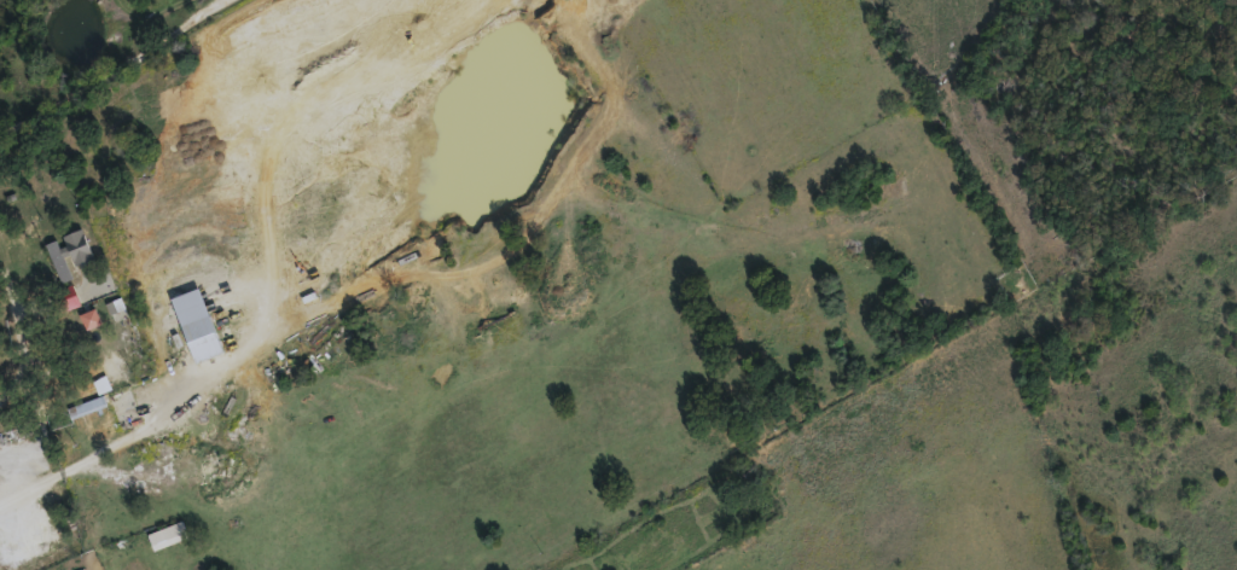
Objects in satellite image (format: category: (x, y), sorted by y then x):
road: (115, 69)
building: (69, 251)
building: (91, 318)
road: (16, 372)
building: (86, 405)
road: (149, 427)
road: (577, 551)

